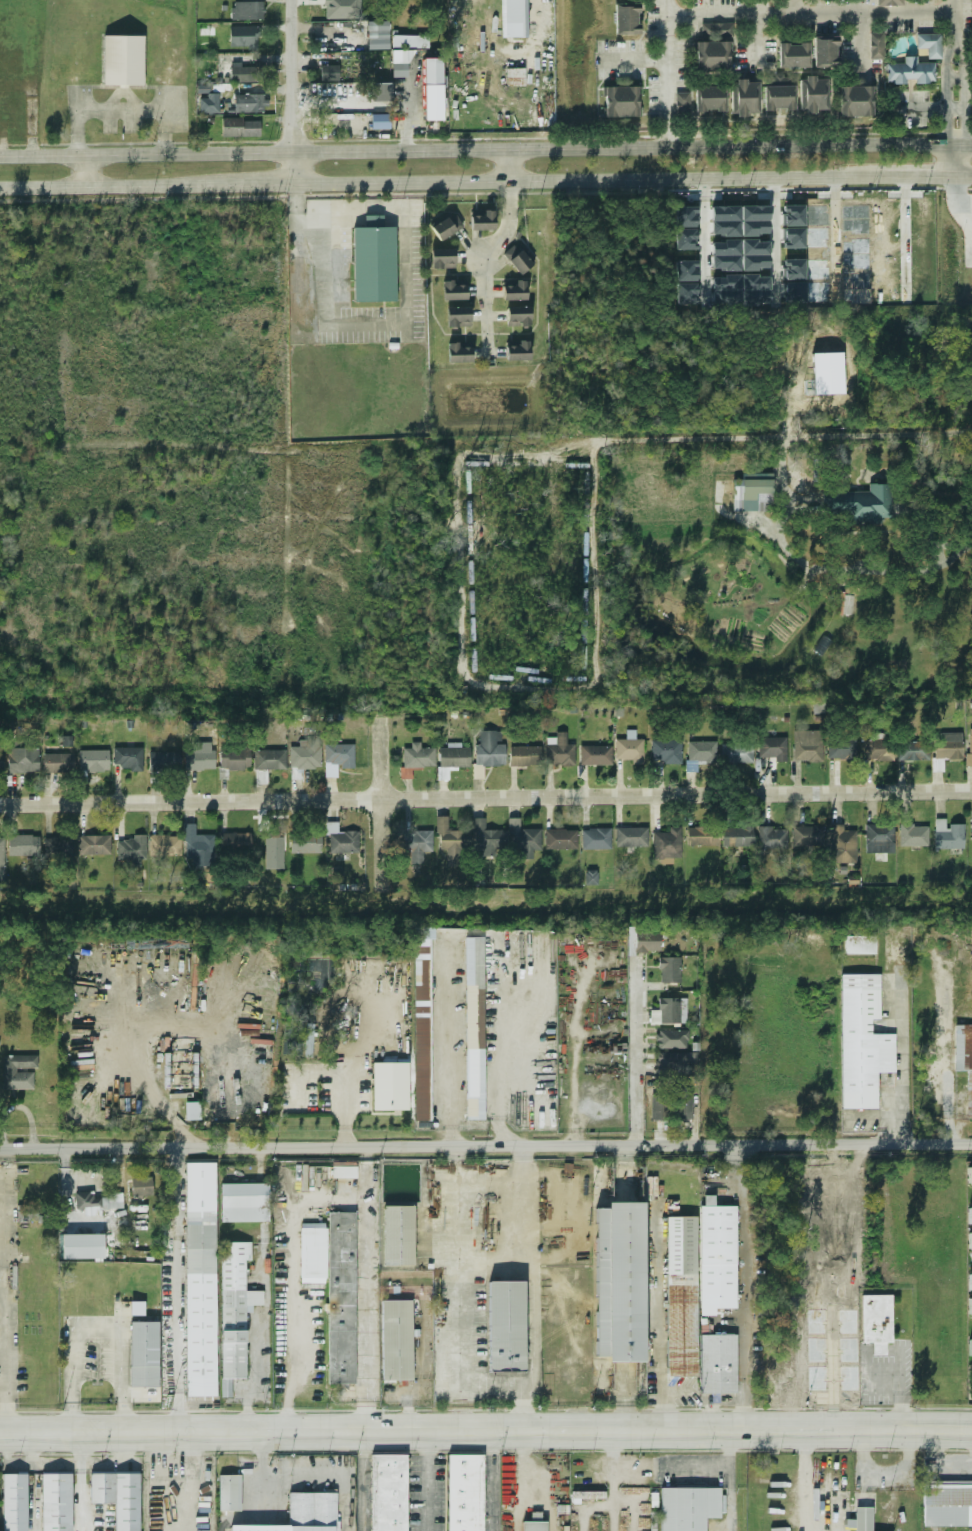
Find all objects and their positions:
building: (889, 3)
building: (342, 9)
road: (668, 9)
road: (952, 10)
building: (247, 11)
building: (515, 18)
road: (759, 18)
building: (626, 21)
building: (378, 35)
building: (242, 37)
building: (410, 42)
building: (929, 45)
building: (876, 46)
building: (713, 48)
building: (825, 53)
building: (793, 55)
building: (122, 60)
building: (401, 63)
building: (328, 72)
building: (909, 72)
building: (246, 74)
building: (781, 80)
building: (433, 89)
road: (948, 90)
road: (291, 91)
road: (962, 92)
building: (813, 94)
building: (778, 97)
building: (744, 98)
building: (710, 99)
building: (622, 101)
building: (856, 101)
building: (244, 103)
building: (210, 104)
building: (681, 106)
building: (380, 121)
building: (239, 127)
road: (954, 137)
road: (486, 150)
road: (954, 158)
road: (505, 165)
road: (82, 170)
road: (908, 176)
road: (963, 176)
road: (431, 180)
road: (776, 201)
road: (966, 202)
road: (961, 203)
building: (855, 211)
building: (724, 213)
building: (754, 213)
building: (793, 215)
building: (818, 215)
building: (687, 216)
building: (482, 221)
building: (447, 227)
building: (725, 227)
building: (856, 227)
building: (755, 228)
road: (706, 237)
building: (793, 237)
building: (817, 237)
building: (687, 238)
road: (404, 242)
building: (856, 245)
building: (755, 247)
building: (725, 248)
road: (485, 256)
building: (442, 258)
building: (517, 259)
building: (725, 262)
building: (755, 262)
building: (856, 262)
building: (374, 264)
building: (818, 268)
building: (793, 269)
building: (687, 271)
building: (856, 280)
building: (725, 282)
building: (755, 282)
building: (453, 290)
building: (514, 290)
building: (818, 291)
building: (793, 292)
building: (687, 293)
building: (725, 297)
building: (857, 297)
building: (756, 298)
building: (458, 316)
building: (518, 316)
building: (518, 351)
building: (458, 353)
building: (833, 371)
road: (712, 438)
building: (753, 492)
building: (862, 503)
road: (821, 568)
building: (948, 745)
building: (808, 746)
building: (629, 747)
building: (969, 747)
building: (490, 748)
building: (773, 748)
building: (842, 748)
building: (879, 749)
building: (559, 750)
building: (702, 750)
building: (913, 750)
building: (666, 751)
building: (304, 753)
building: (737, 753)
building: (339, 754)
building: (595, 754)
building: (454, 755)
building: (525, 755)
building: (128, 757)
building: (235, 757)
building: (199, 759)
building: (270, 759)
building: (19, 760)
building: (94, 760)
building: (164, 761)
building: (58, 762)
road: (486, 796)
road: (382, 802)
building: (971, 830)
building: (913, 834)
building: (948, 834)
building: (808, 835)
building: (632, 836)
building: (702, 836)
building: (737, 836)
building: (772, 837)
building: (596, 838)
building: (879, 838)
building: (341, 839)
building: (487, 839)
building: (523, 839)
building: (561, 839)
building: (452, 841)
building: (236, 842)
building: (197, 843)
building: (305, 843)
building: (419, 844)
building: (667, 844)
building: (842, 844)
building: (23, 845)
building: (94, 845)
building: (165, 845)
building: (58, 846)
building: (131, 850)
building: (274, 852)
building: (1, 859)
building: (591, 877)
building: (647, 941)
building: (858, 946)
building: (668, 970)
building: (670, 1011)
building: (473, 1024)
building: (421, 1028)
road: (135, 1039)
building: (671, 1039)
building: (863, 1040)
road: (446, 1046)
road: (947, 1051)
road: (634, 1052)
road: (499, 1059)
building: (964, 1060)
building: (671, 1062)
building: (17, 1072)
road: (347, 1081)
building: (391, 1086)
building: (659, 1107)
building: (683, 1107)
building: (192, 1111)
road: (485, 1145)
building: (342, 1170)
building: (969, 1174)
building: (142, 1187)
road: (969, 1196)
building: (86, 1201)
building: (243, 1203)
road: (528, 1214)
building: (970, 1215)
building: (397, 1235)
building: (969, 1240)
building: (81, 1246)
building: (313, 1253)
building: (716, 1256)
road: (970, 1262)
road: (291, 1278)
building: (199, 1280)
building: (619, 1281)
building: (970, 1281)
road: (744, 1285)
road: (1, 1288)
road: (178, 1288)
road: (364, 1288)
building: (679, 1295)
building: (340, 1298)
building: (970, 1306)
building: (137, 1308)
building: (233, 1312)
building: (876, 1318)
road: (99, 1323)
building: (505, 1325)
building: (395, 1340)
building: (970, 1346)
building: (143, 1354)
road: (532, 1357)
building: (717, 1363)
road: (968, 1383)
road: (72, 1416)
road: (122, 1416)
road: (486, 1429)
road: (523, 1465)
road: (279, 1479)
road: (729, 1479)
road: (30, 1480)
road: (80, 1480)
road: (362, 1480)
road: (426, 1480)
road: (489, 1480)
road: (614, 1480)
road: (805, 1480)
building: (387, 1492)
building: (462, 1492)
building: (229, 1493)
building: (117, 1497)
building: (13, 1502)
building: (55, 1502)
building: (947, 1504)
building: (687, 1508)
building: (311, 1511)
building: (859, 1520)
building: (533, 1526)

